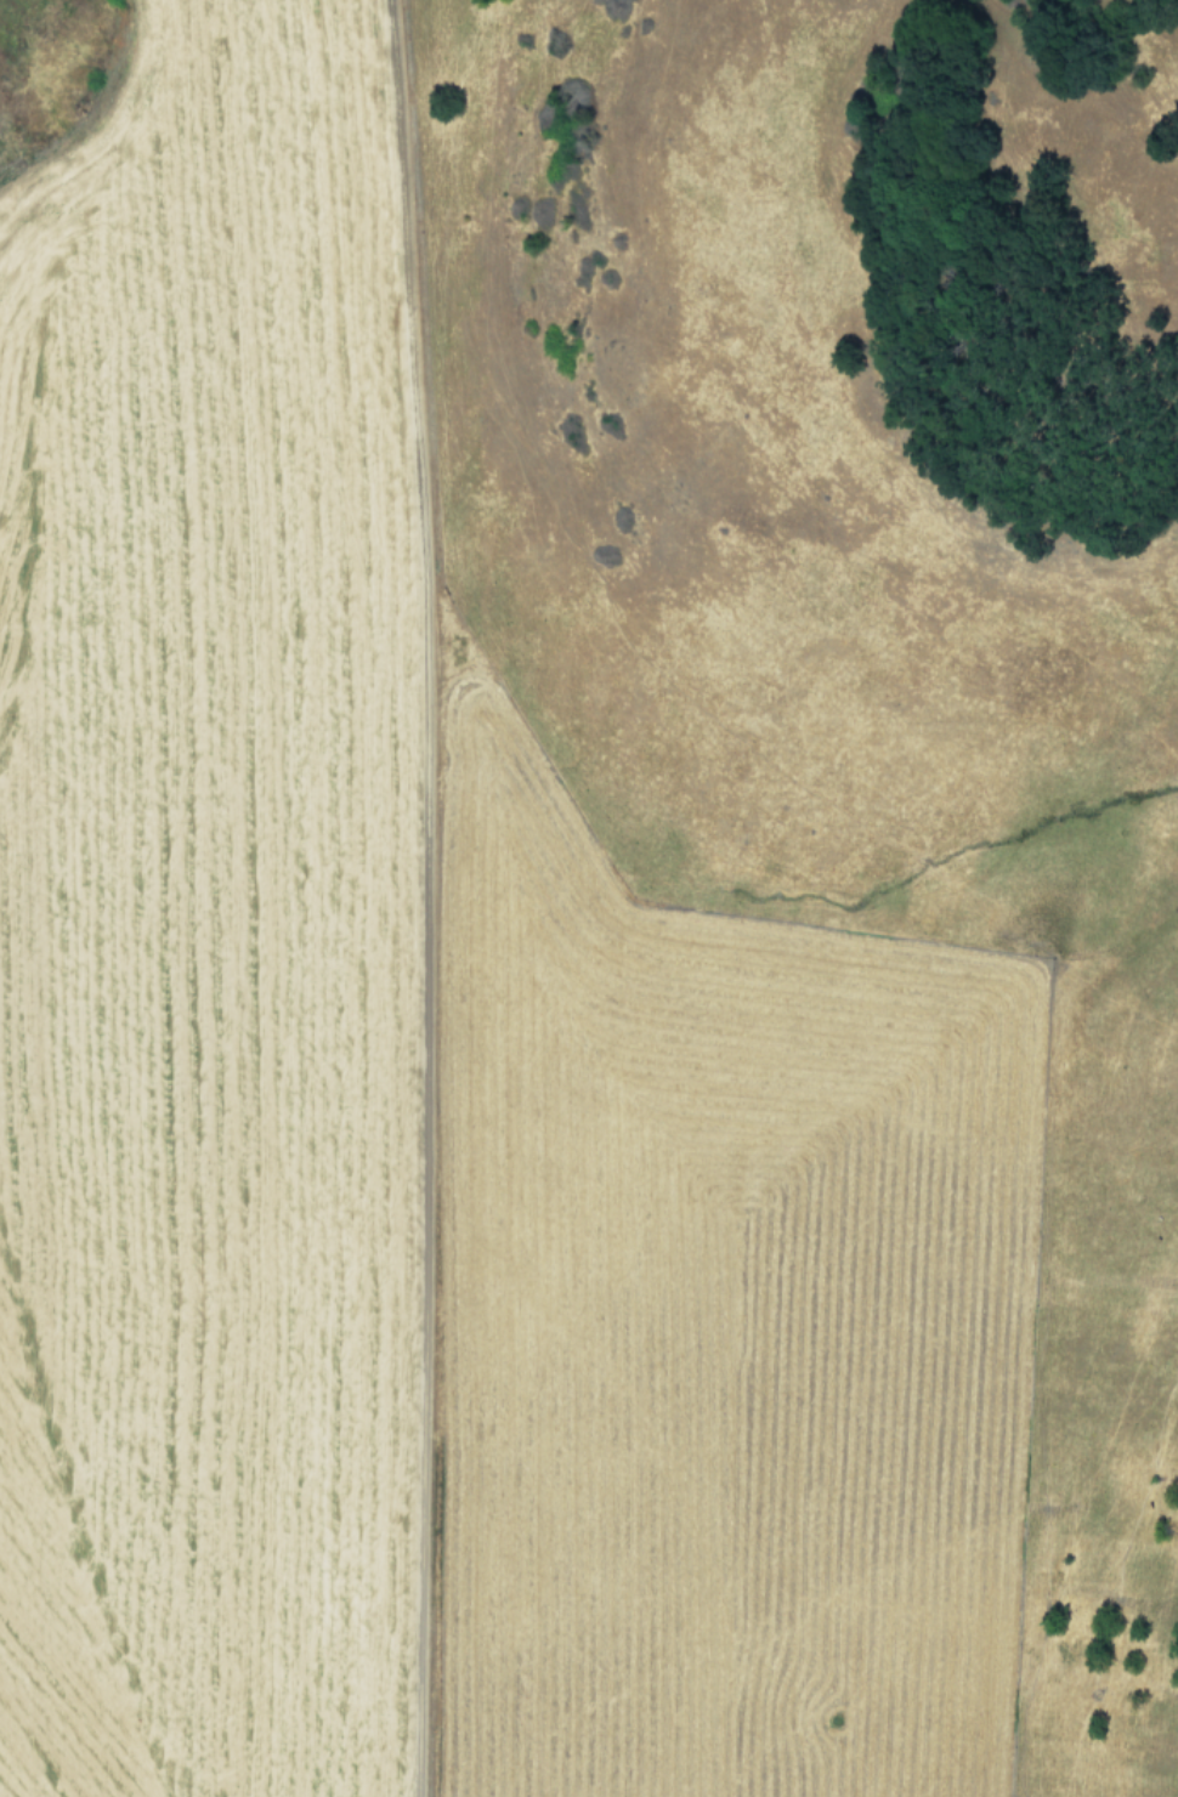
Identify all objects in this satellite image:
crop: (551, 952)

